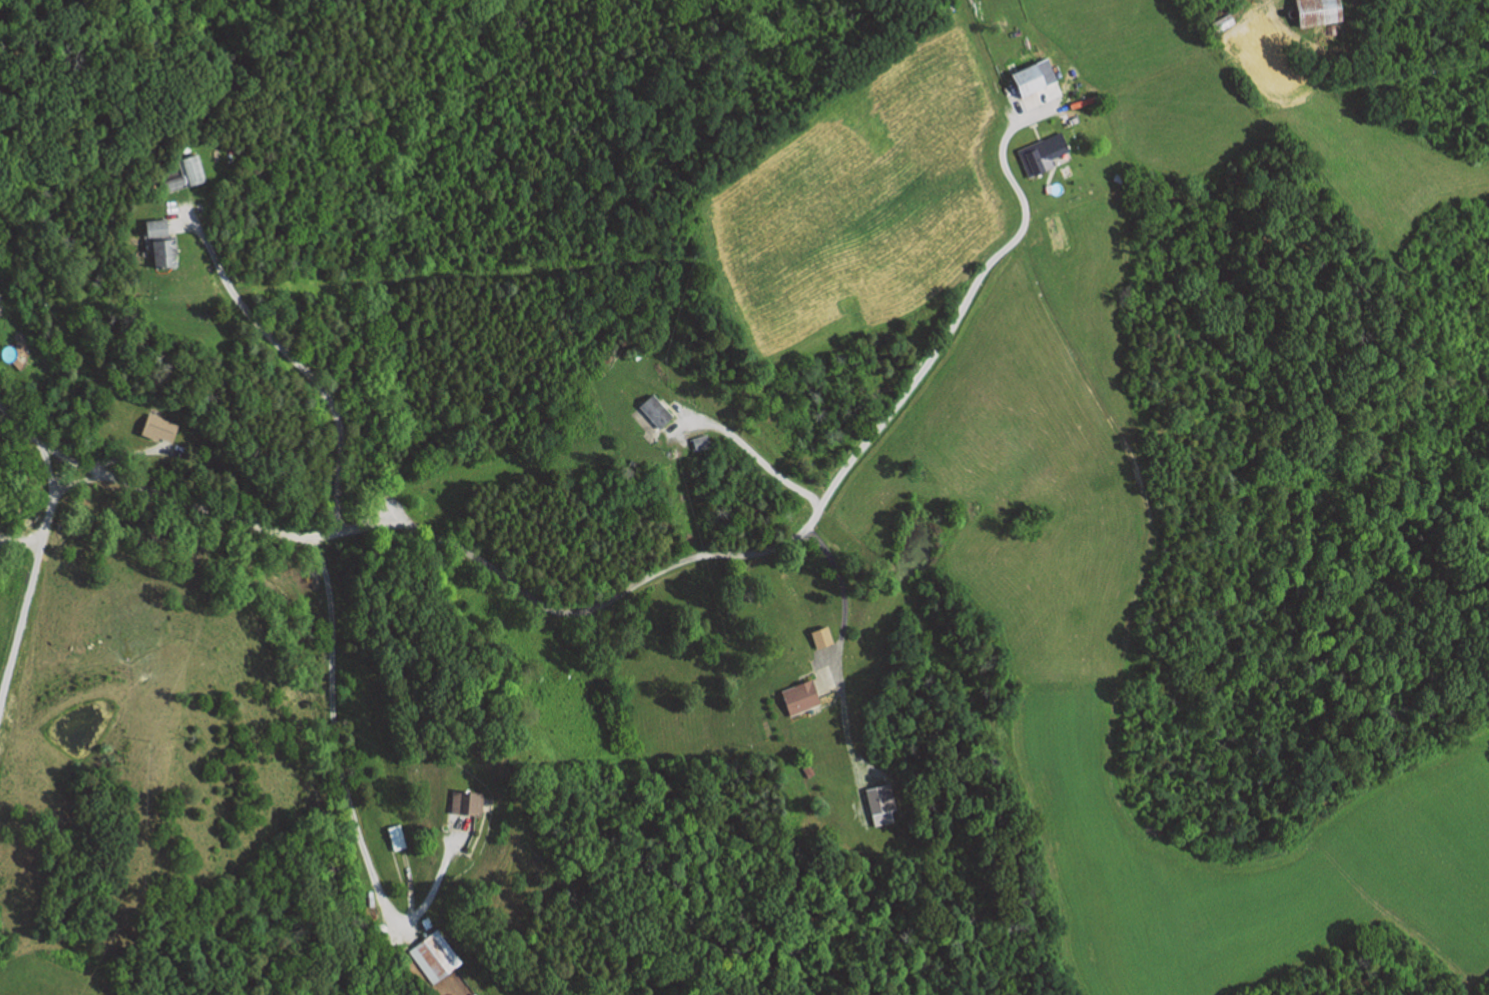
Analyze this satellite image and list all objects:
building: (1313, 11)
road: (1171, 68)
building: (1023, 73)
building: (1056, 123)
building: (1037, 160)
building: (186, 174)
road: (187, 209)
building: (161, 244)
road: (967, 302)
building: (1, 314)
road: (291, 355)
building: (654, 411)
building: (163, 427)
building: (698, 441)
road: (744, 442)
road: (174, 450)
road: (131, 454)
road: (81, 480)
road: (53, 493)
road: (423, 531)
road: (20, 537)
road: (843, 608)
road: (20, 620)
building: (817, 635)
road: (828, 650)
building: (795, 695)
road: (846, 719)
road: (348, 797)
building: (877, 797)
building: (470, 803)
building: (399, 837)
road: (408, 882)
road: (1420, 937)
building: (437, 956)

